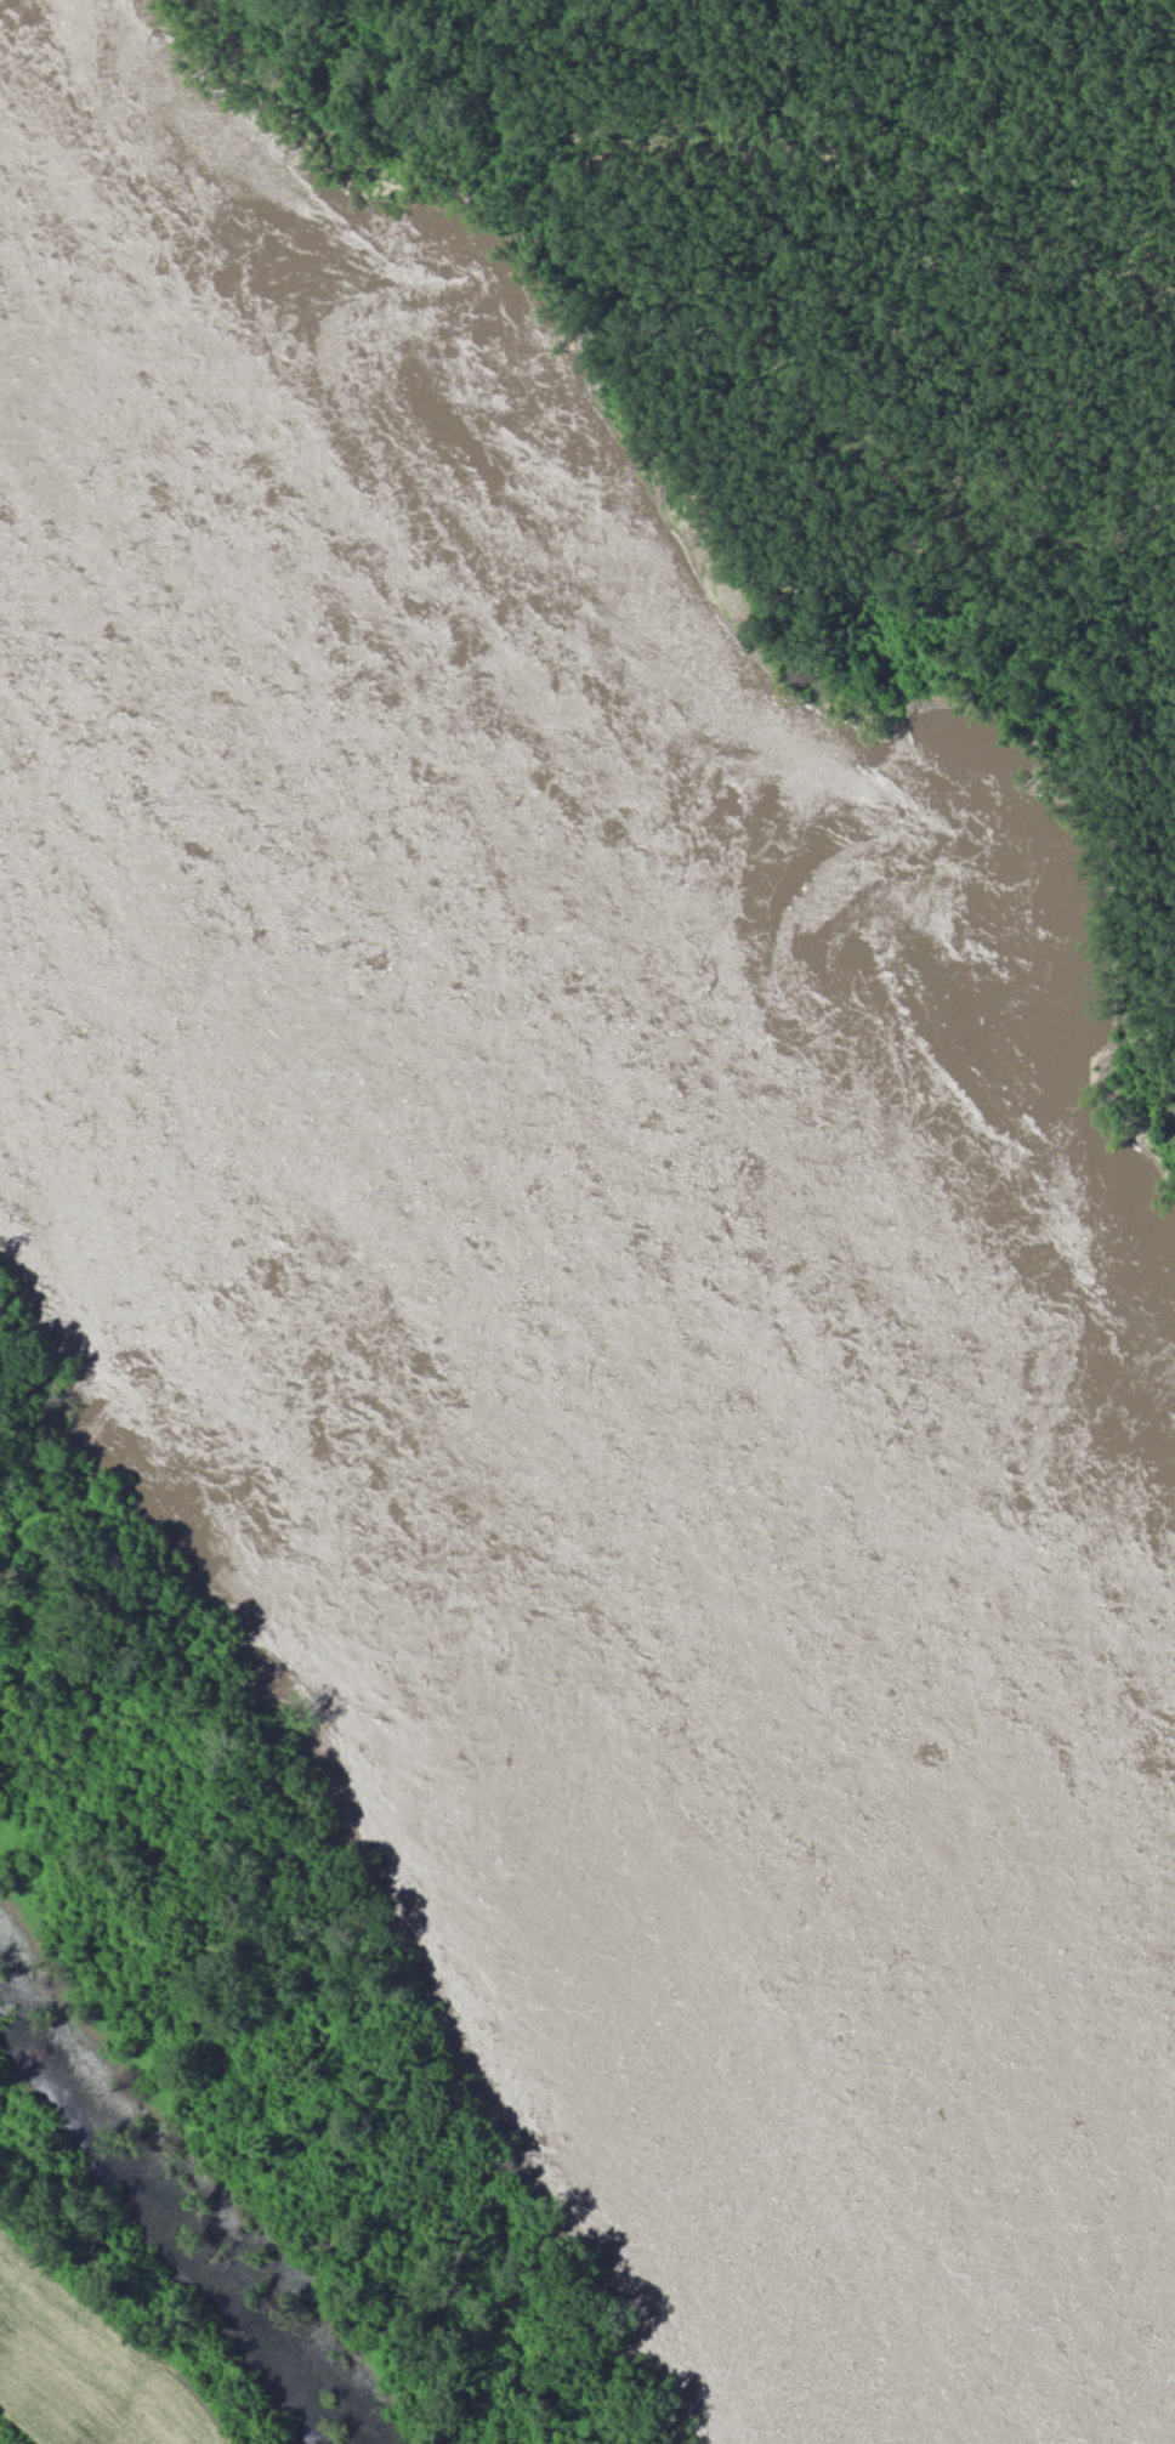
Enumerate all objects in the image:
road: (1167, 1277)
river: (689, 1457)
crop: (84, 2365)

